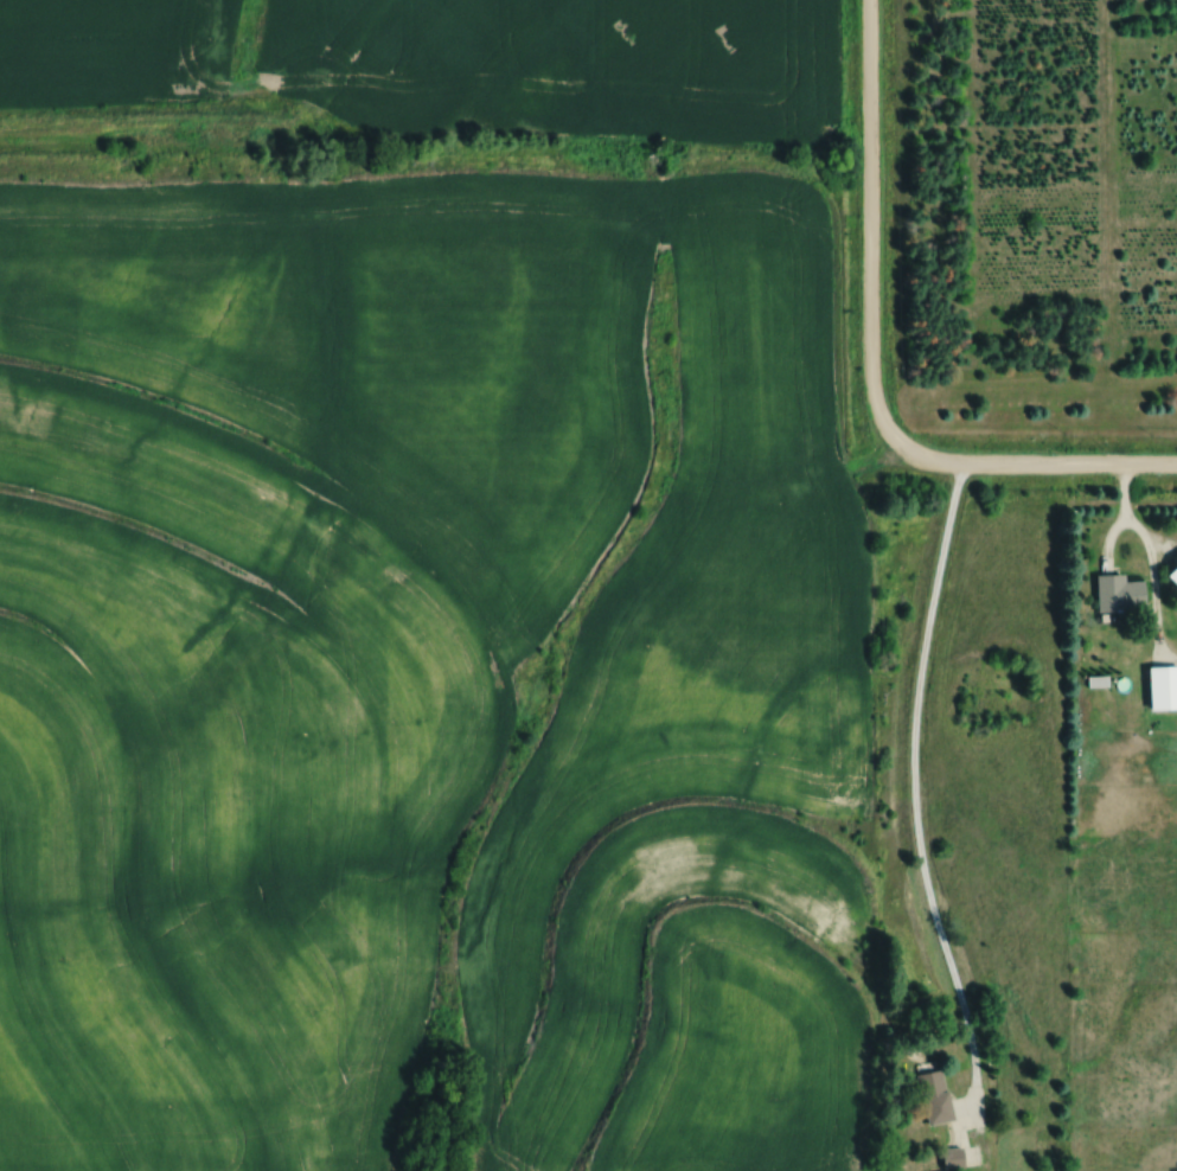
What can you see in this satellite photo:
road: (870, 370)
building: (1176, 576)
building: (1125, 594)
building: (1165, 673)
road: (914, 794)
building: (942, 1096)
building: (962, 1158)

